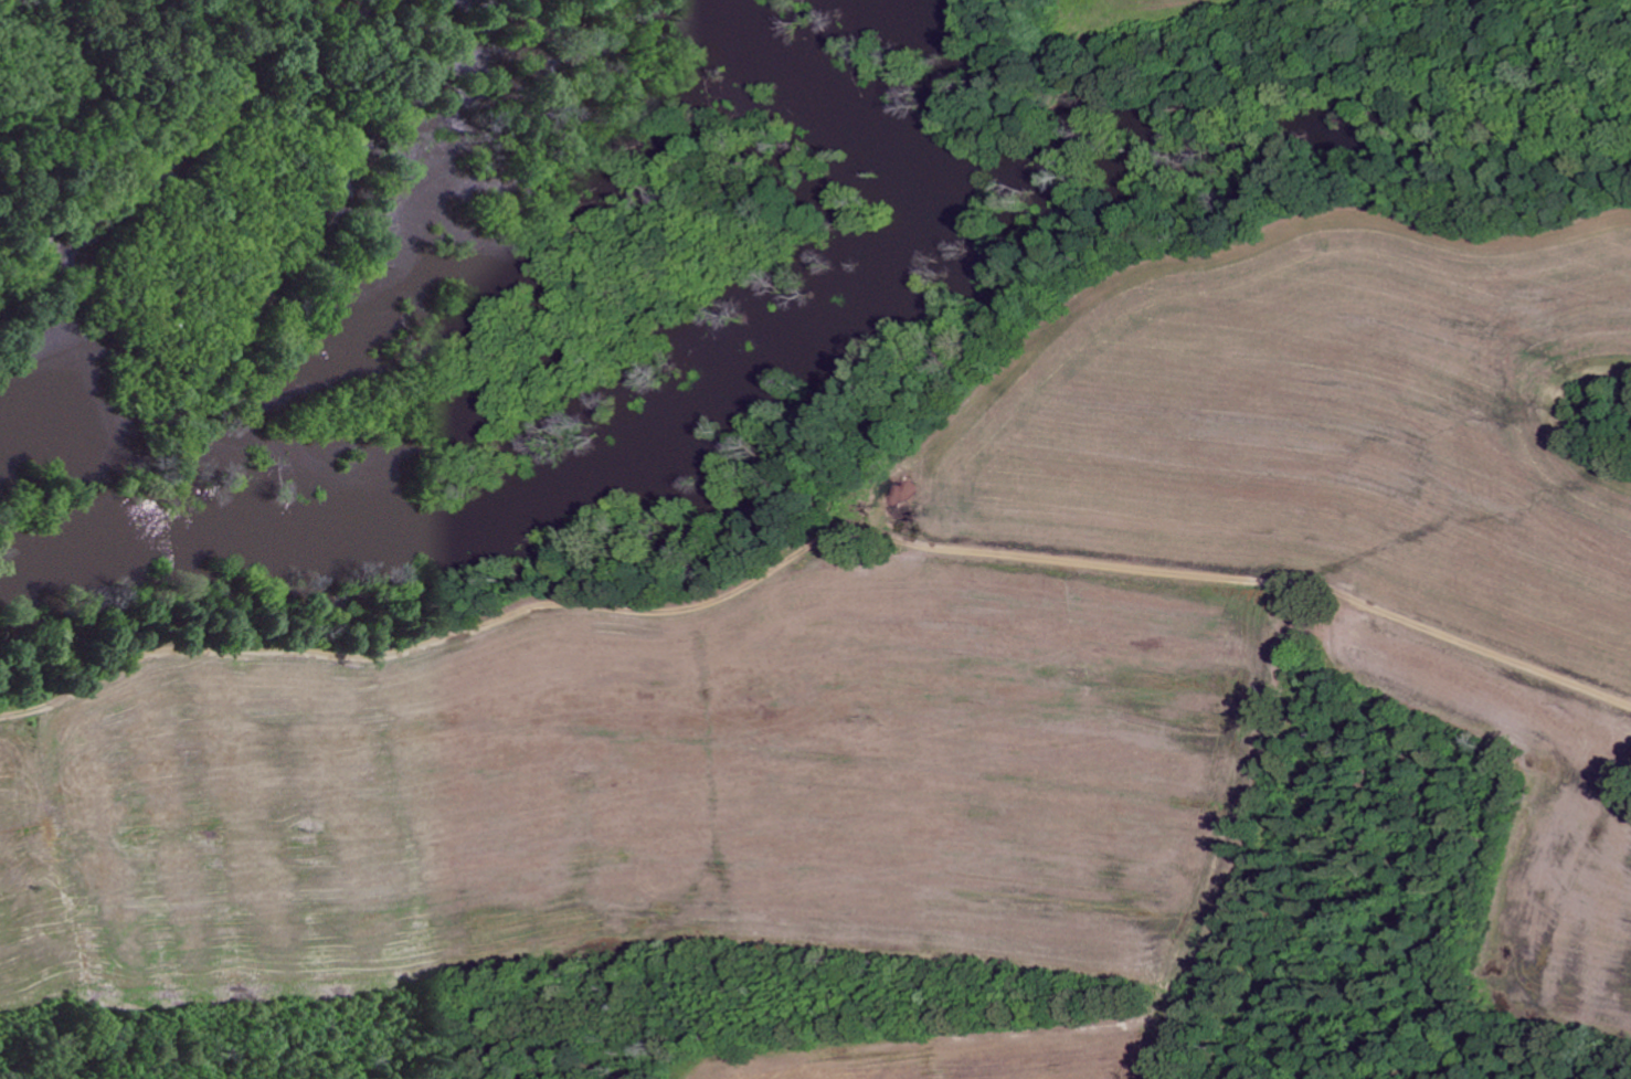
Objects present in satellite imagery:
river: (660, 459)

